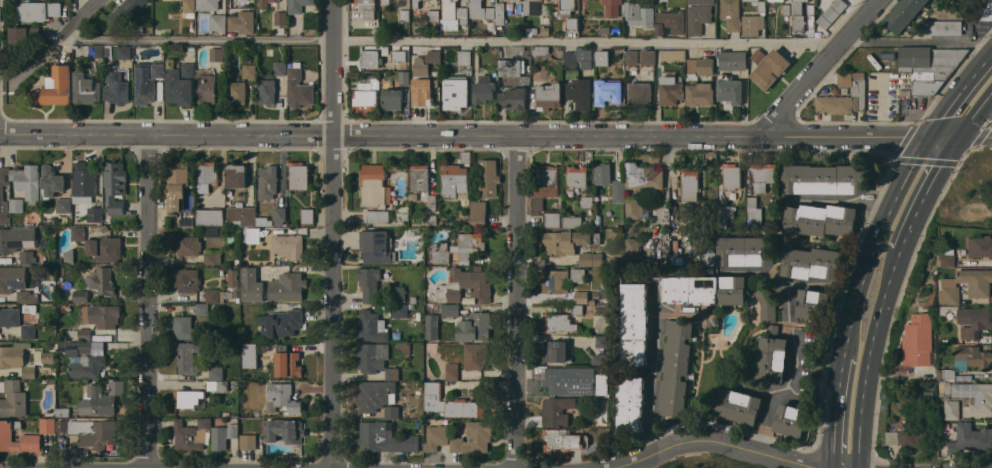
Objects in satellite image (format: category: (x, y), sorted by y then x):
building: (776, 0)
building: (386, 2)
building: (701, 2)
building: (265, 3)
building: (416, 3)
building: (207, 5)
building: (298, 5)
building: (761, 5)
building: (564, 6)
building: (189, 7)
building: (526, 7)
building: (612, 7)
building: (367, 8)
building: (983, 9)
building: (481, 10)
building: (546, 10)
building: (787, 10)
building: (37, 11)
building: (126, 11)
building: (831, 13)
building: (449, 14)
building: (463, 14)
building: (500, 14)
building: (639, 14)
building: (731, 14)
building: (903, 14)
building: (405, 15)
building: (433, 15)
building: (802, 15)
road: (81, 18)
building: (281, 18)
building: (698, 18)
building: (673, 20)
building: (218, 22)
building: (243, 22)
building: (753, 24)
building: (572, 25)
building: (946, 27)
building: (605, 30)
building: (545, 31)
building: (22, 37)
road: (527, 41)
building: (540, 49)
building: (96, 51)
building: (124, 52)
building: (218, 54)
building: (399, 56)
building: (433, 56)
building: (464, 56)
building: (602, 56)
building: (673, 56)
building: (758, 56)
building: (632, 57)
building: (647, 57)
building: (577, 58)
building: (930, 58)
building: (371, 59)
building: (733, 60)
building: (700, 65)
building: (280, 66)
building: (420, 67)
building: (510, 67)
road: (820, 67)
building: (770, 68)
building: (157, 69)
building: (188, 70)
building: (249, 71)
building: (405, 78)
building: (928, 81)
building: (144, 85)
building: (54, 87)
building: (116, 87)
building: (85, 88)
building: (178, 88)
building: (205, 88)
building: (298, 88)
building: (671, 88)
building: (456, 89)
building: (484, 89)
building: (267, 90)
building: (421, 91)
building: (730, 91)
building: (859, 91)
building: (237, 92)
building: (607, 92)
building: (639, 92)
building: (580, 93)
building: (700, 93)
road: (959, 94)
building: (367, 96)
building: (548, 96)
building: (513, 98)
building: (392, 99)
road: (990, 102)
road: (976, 112)
road: (976, 133)
road: (480, 134)
building: (206, 173)
building: (603, 174)
building: (236, 175)
building: (763, 175)
building: (299, 176)
building: (577, 176)
building: (643, 176)
building: (732, 176)
building: (488, 177)
building: (85, 178)
building: (420, 178)
building: (454, 179)
building: (826, 179)
building: (27, 180)
building: (52, 181)
building: (178, 182)
building: (267, 182)
building: (690, 183)
building: (545, 184)
building: (115, 186)
building: (374, 186)
road: (926, 189)
building: (619, 191)
building: (2, 193)
building: (16, 204)
building: (64, 205)
building: (637, 208)
building: (753, 211)
building: (478, 213)
building: (95, 214)
building: (279, 215)
building: (241, 216)
building: (307, 216)
building: (377, 216)
building: (209, 217)
building: (552, 220)
building: (820, 220)
building: (572, 221)
building: (79, 233)
road: (333, 233)
building: (252, 234)
building: (15, 238)
building: (565, 241)
road: (876, 241)
building: (289, 245)
building: (188, 246)
building: (468, 246)
building: (981, 246)
building: (376, 247)
building: (105, 249)
building: (632, 250)
building: (745, 251)
building: (441, 253)
building: (69, 255)
building: (27, 256)
building: (709, 257)
building: (948, 257)
building: (212, 258)
building: (591, 259)
building: (812, 263)
building: (5, 279)
building: (561, 279)
building: (187, 280)
building: (101, 281)
building: (234, 282)
building: (369, 283)
building: (251, 285)
building: (465, 286)
building: (287, 287)
building: (704, 290)
building: (980, 291)
building: (398, 294)
building: (80, 296)
building: (26, 297)
building: (581, 297)
building: (212, 300)
road: (520, 300)
road: (148, 301)
building: (766, 304)
building: (812, 304)
building: (399, 310)
building: (450, 310)
building: (105, 315)
building: (9, 317)
building: (974, 321)
building: (280, 322)
building: (558, 322)
building: (633, 324)
building: (432, 326)
building: (474, 326)
building: (183, 327)
building: (371, 327)
building: (28, 331)
building: (919, 339)
building: (556, 351)
building: (13, 354)
building: (98, 354)
building: (250, 355)
building: (974, 355)
building: (474, 356)
building: (187, 357)
building: (372, 357)
road: (870, 357)
building: (600, 359)
building: (772, 359)
building: (37, 363)
building: (287, 363)
building: (675, 366)
building: (452, 371)
building: (392, 374)
building: (947, 374)
building: (217, 379)
building: (570, 380)
road: (652, 386)
road: (783, 391)
building: (376, 395)
building: (976, 395)
building: (283, 396)
building: (14, 398)
building: (101, 398)
building: (190, 399)
building: (452, 403)
building: (630, 404)
building: (738, 405)
building: (952, 409)
building: (557, 411)
road: (835, 411)
building: (63, 412)
building: (391, 412)
building: (790, 419)
building: (48, 425)
building: (61, 425)
building: (285, 431)
building: (95, 432)
building: (192, 434)
building: (438, 434)
building: (223, 436)
building: (474, 437)
building: (907, 437)
building: (969, 437)
building: (31, 438)
building: (385, 438)
building: (564, 440)
building: (248, 442)
road: (715, 442)
road: (795, 465)
road: (166, 467)

